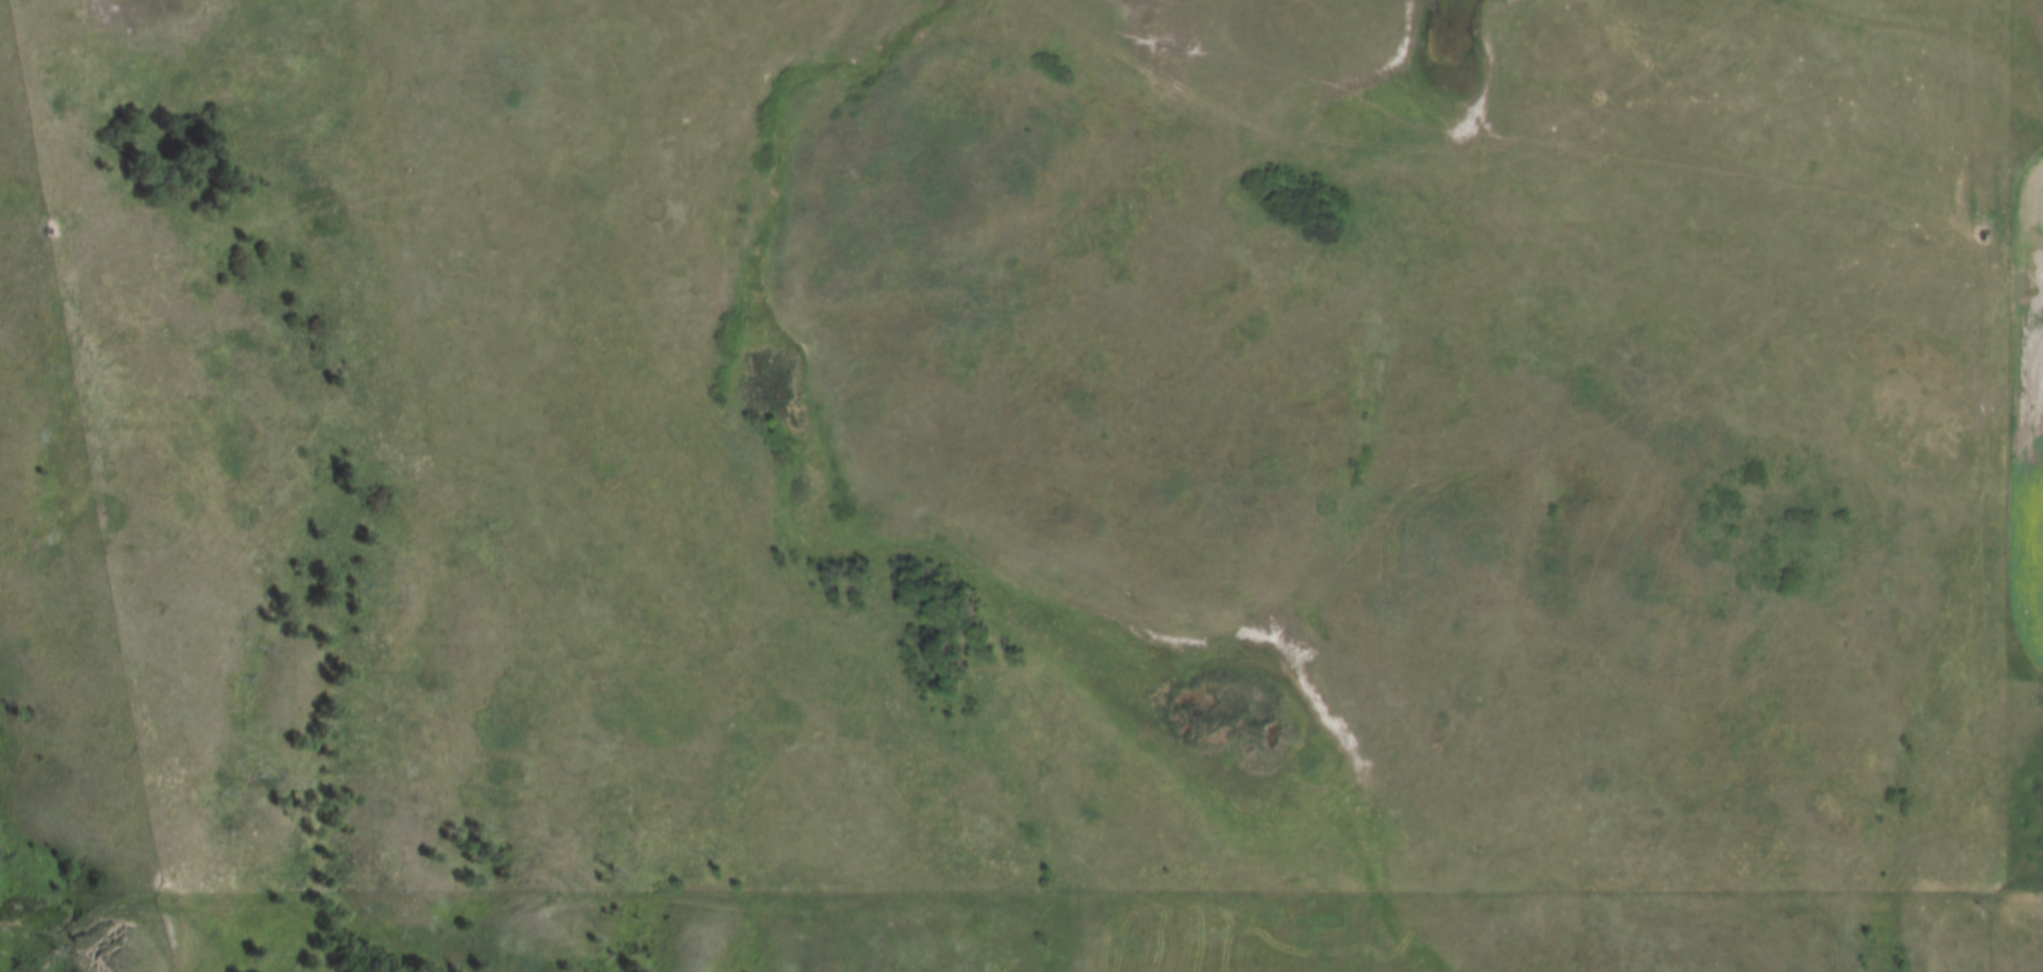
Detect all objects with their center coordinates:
road: (1992, 465)

